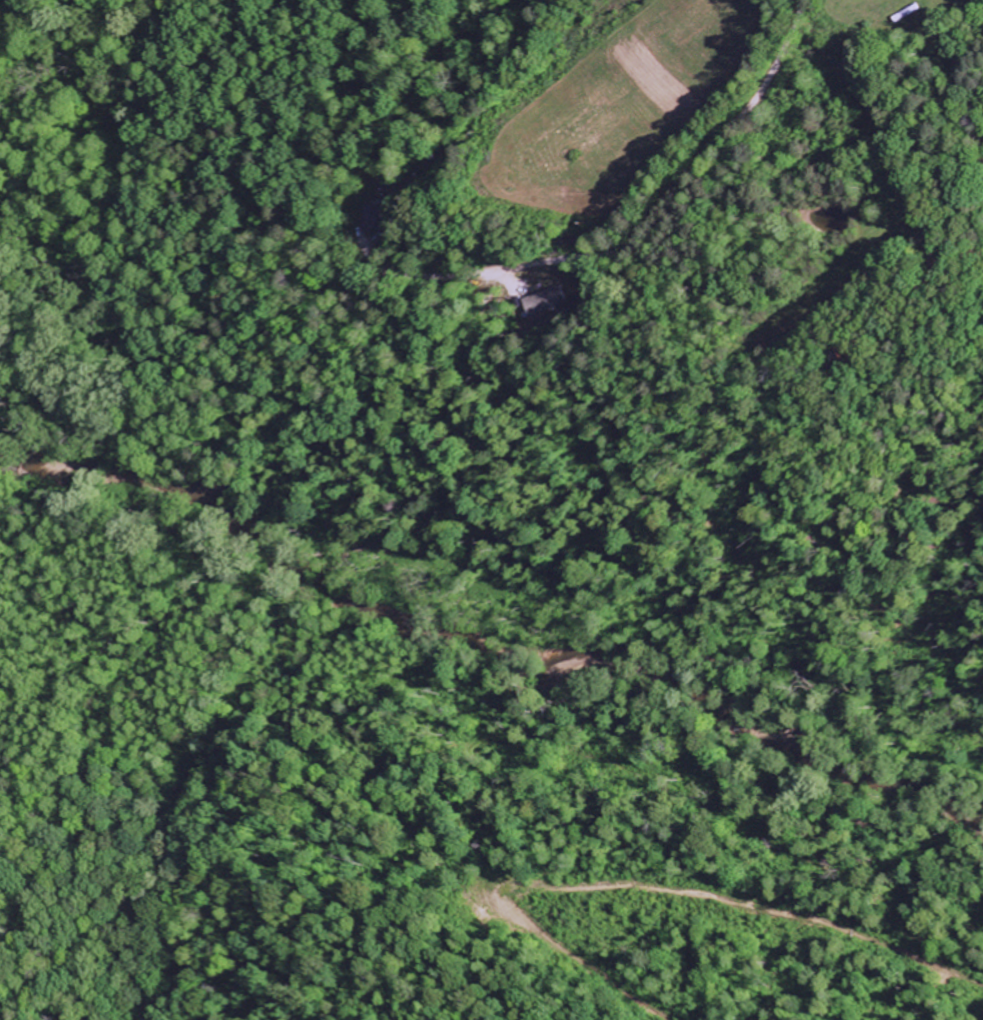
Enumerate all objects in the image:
building: (542, 301)

